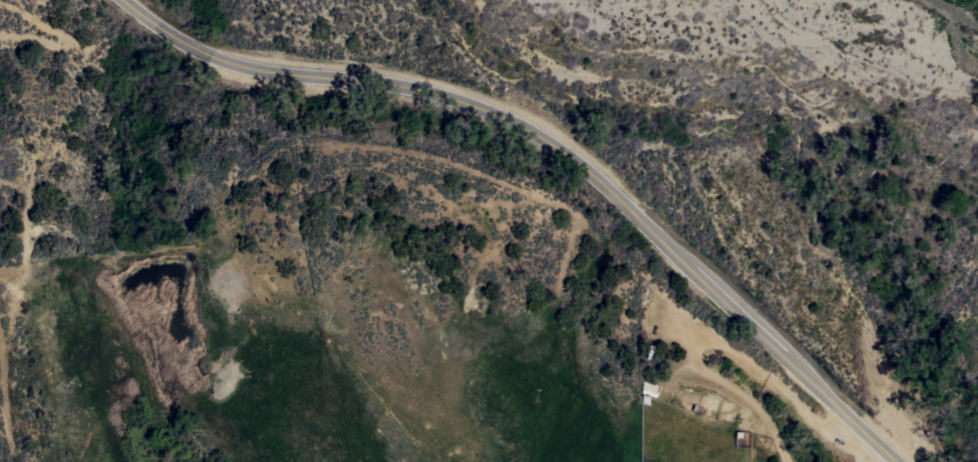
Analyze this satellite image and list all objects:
road: (553, 147)
road: (853, 443)

